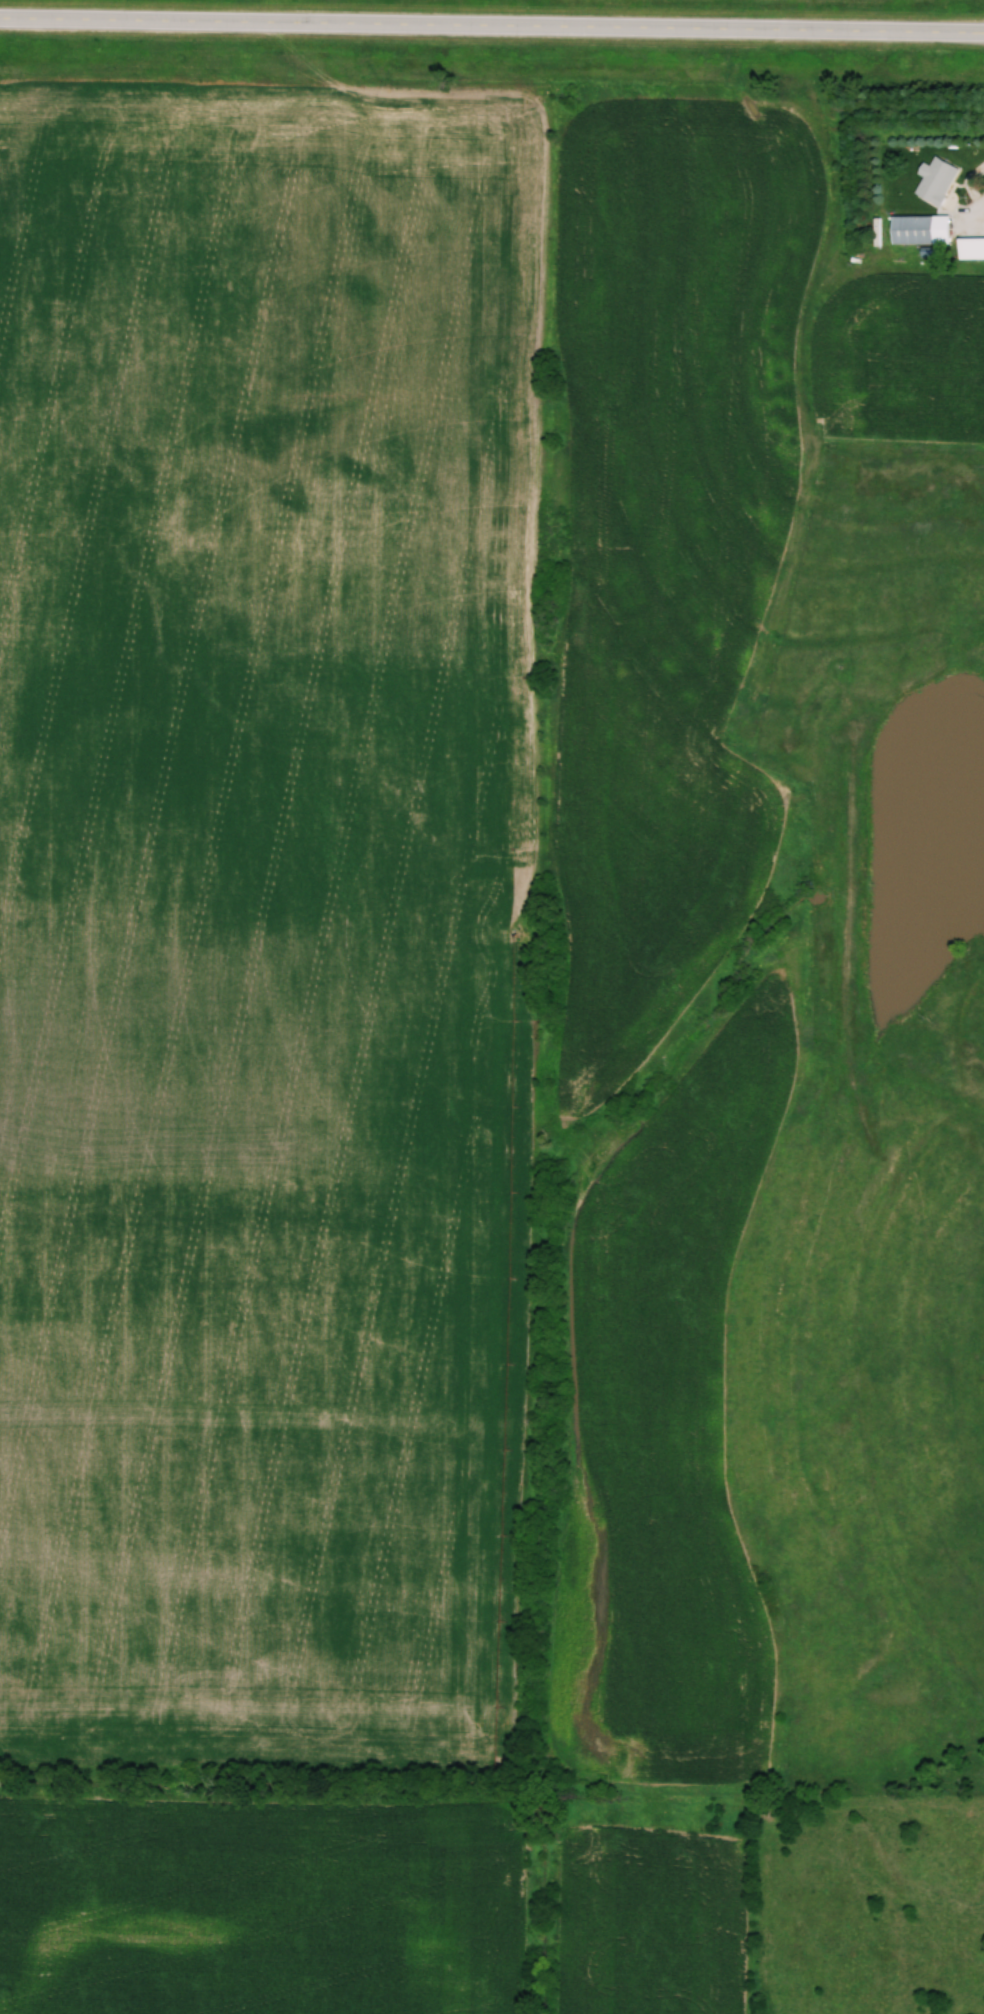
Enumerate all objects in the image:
road: (492, 25)
building: (939, 178)
building: (915, 230)

